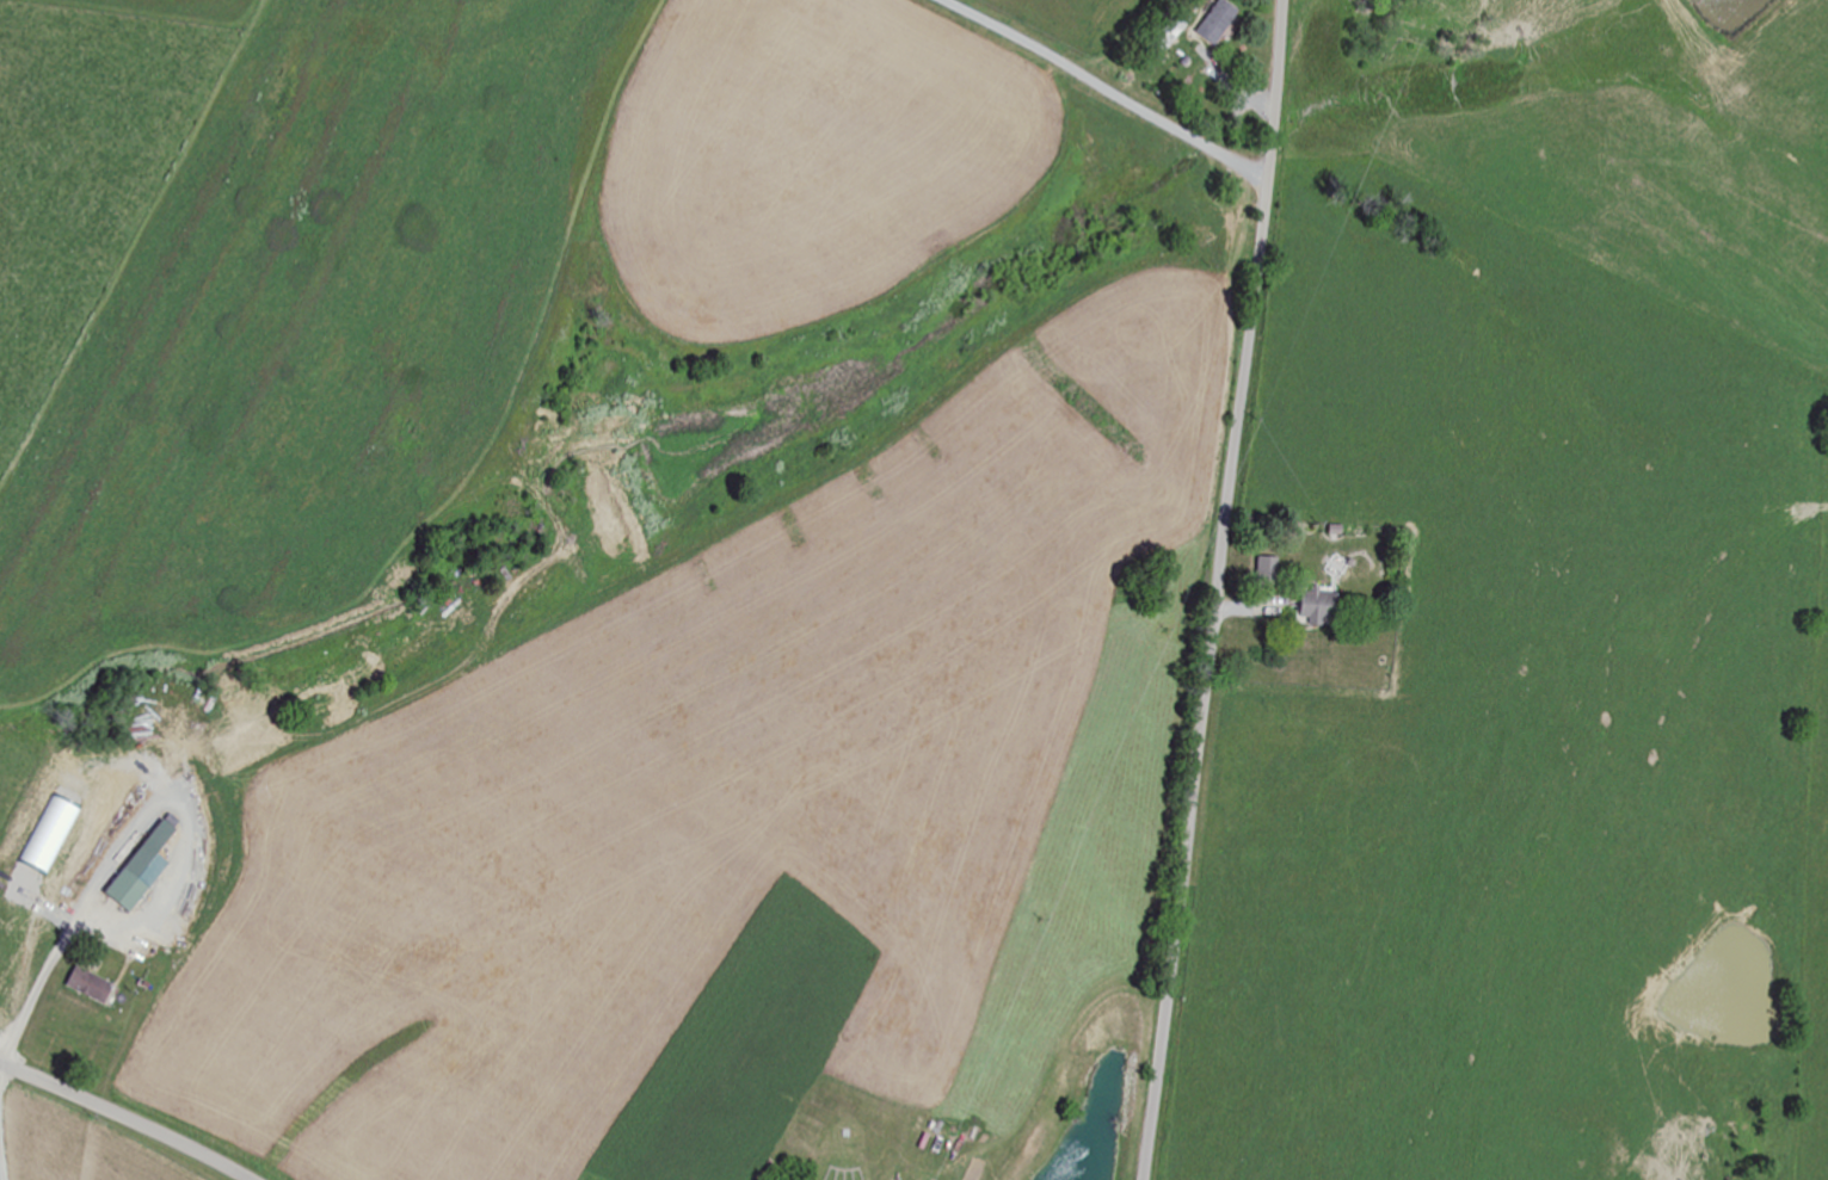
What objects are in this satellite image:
building: (1221, 21)
road: (1220, 589)
building: (1325, 606)
building: (131, 891)
building: (93, 984)
road: (125, 1117)

